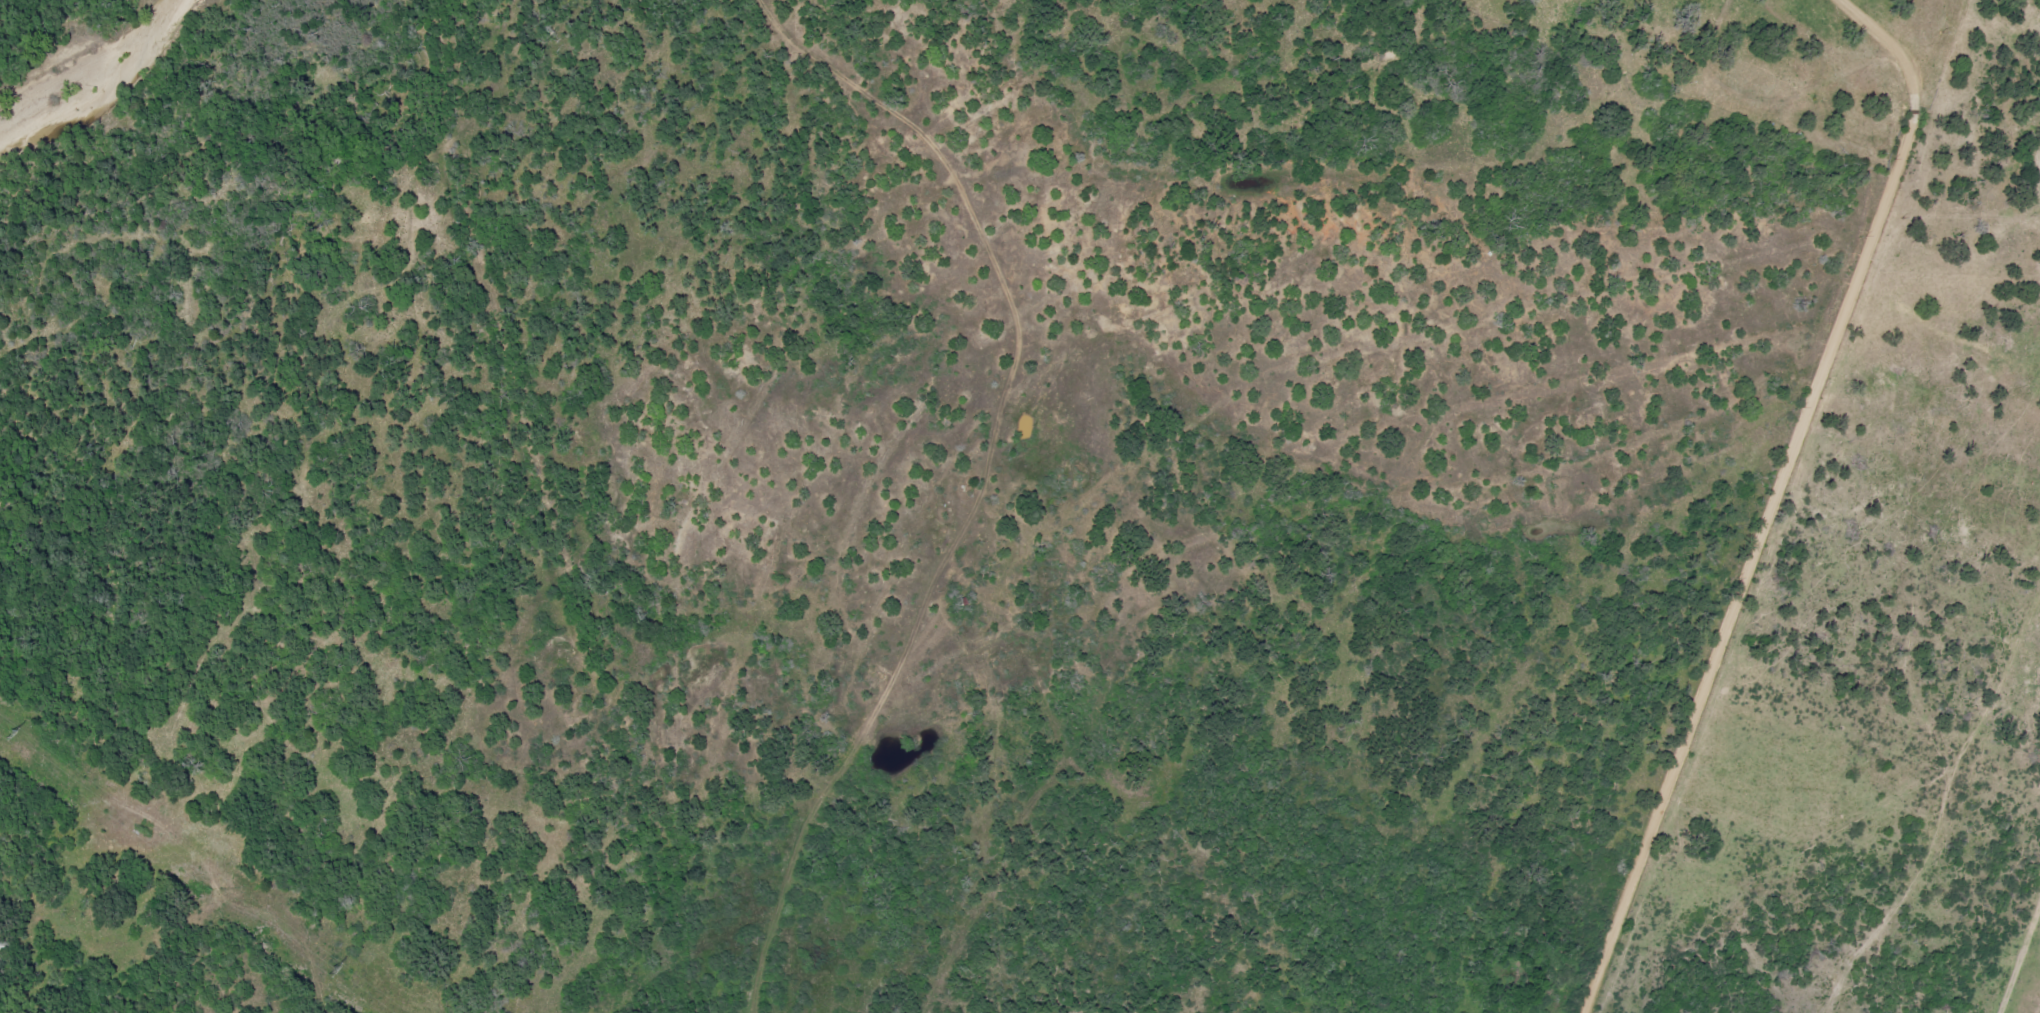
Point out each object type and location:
road: (1775, 490)
power tower: (5, 734)
power tower: (328, 970)

